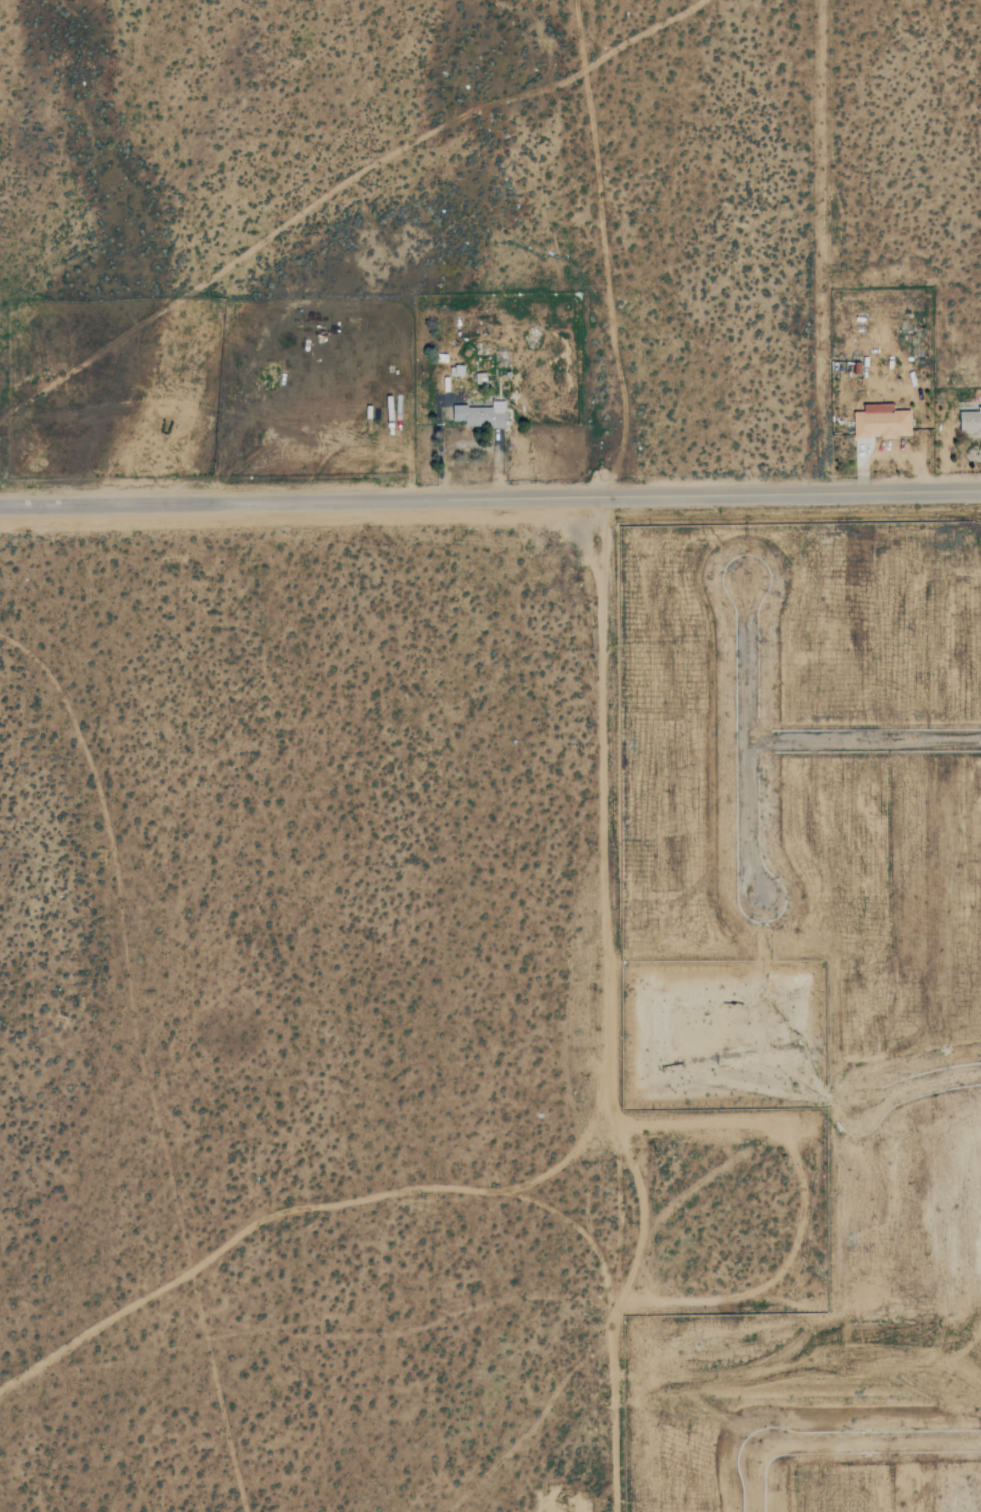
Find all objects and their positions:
road: (337, 187)
road: (818, 247)
building: (482, 415)
building: (970, 420)
building: (881, 421)
road: (490, 499)
road: (863, 734)
road: (746, 739)
road: (600, 896)
road: (143, 1059)
road: (918, 1086)
road: (833, 1445)

